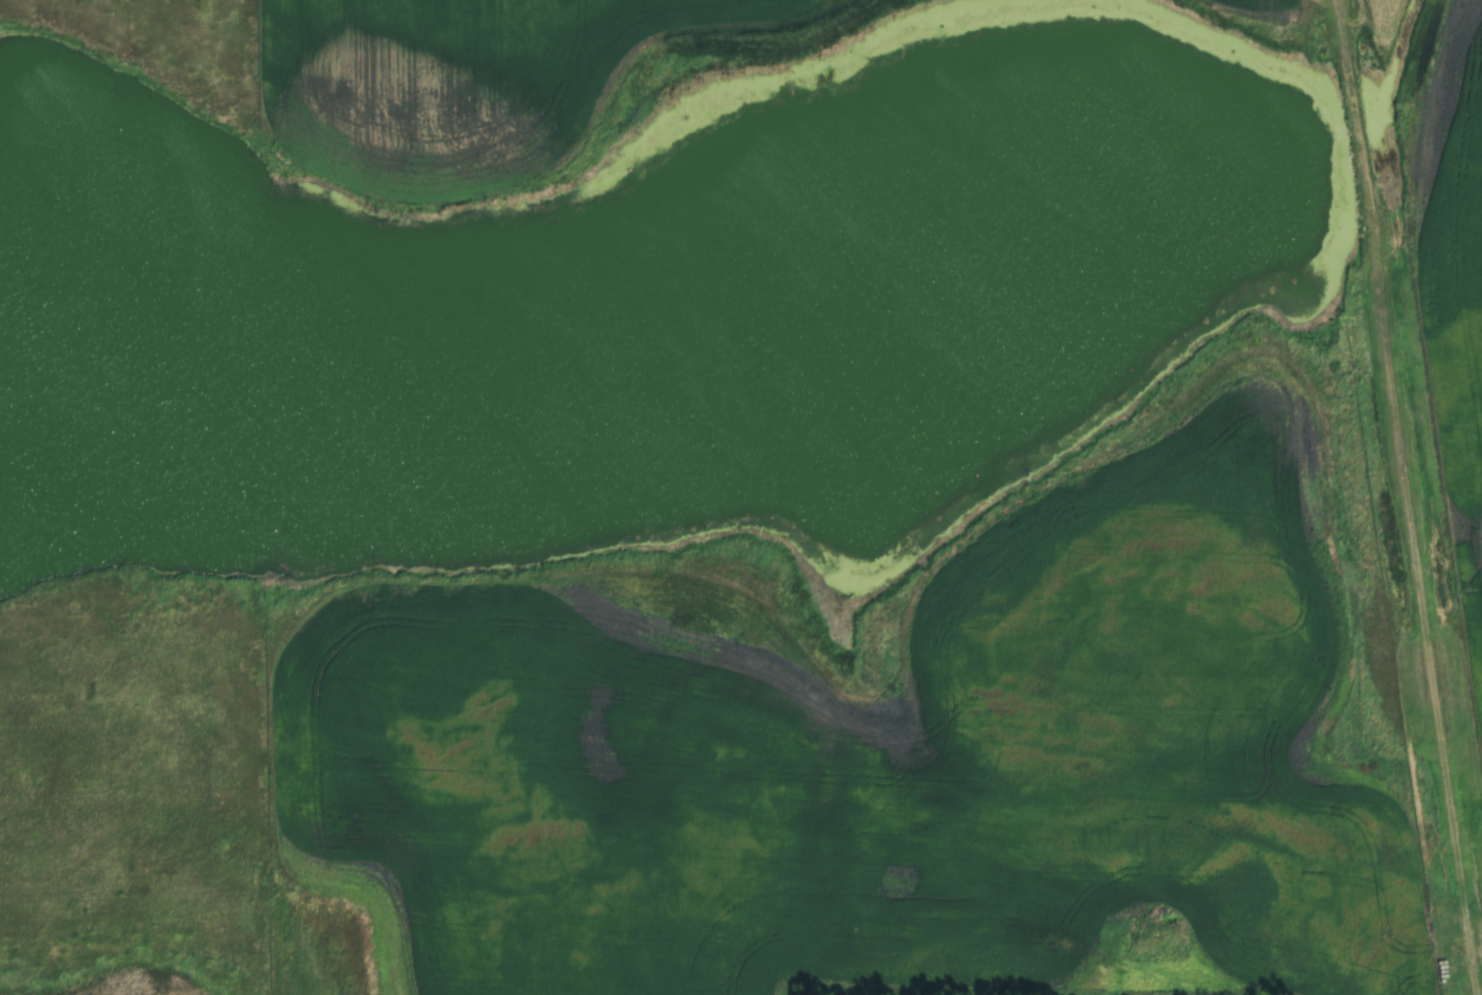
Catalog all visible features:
building: (1167, 908)

